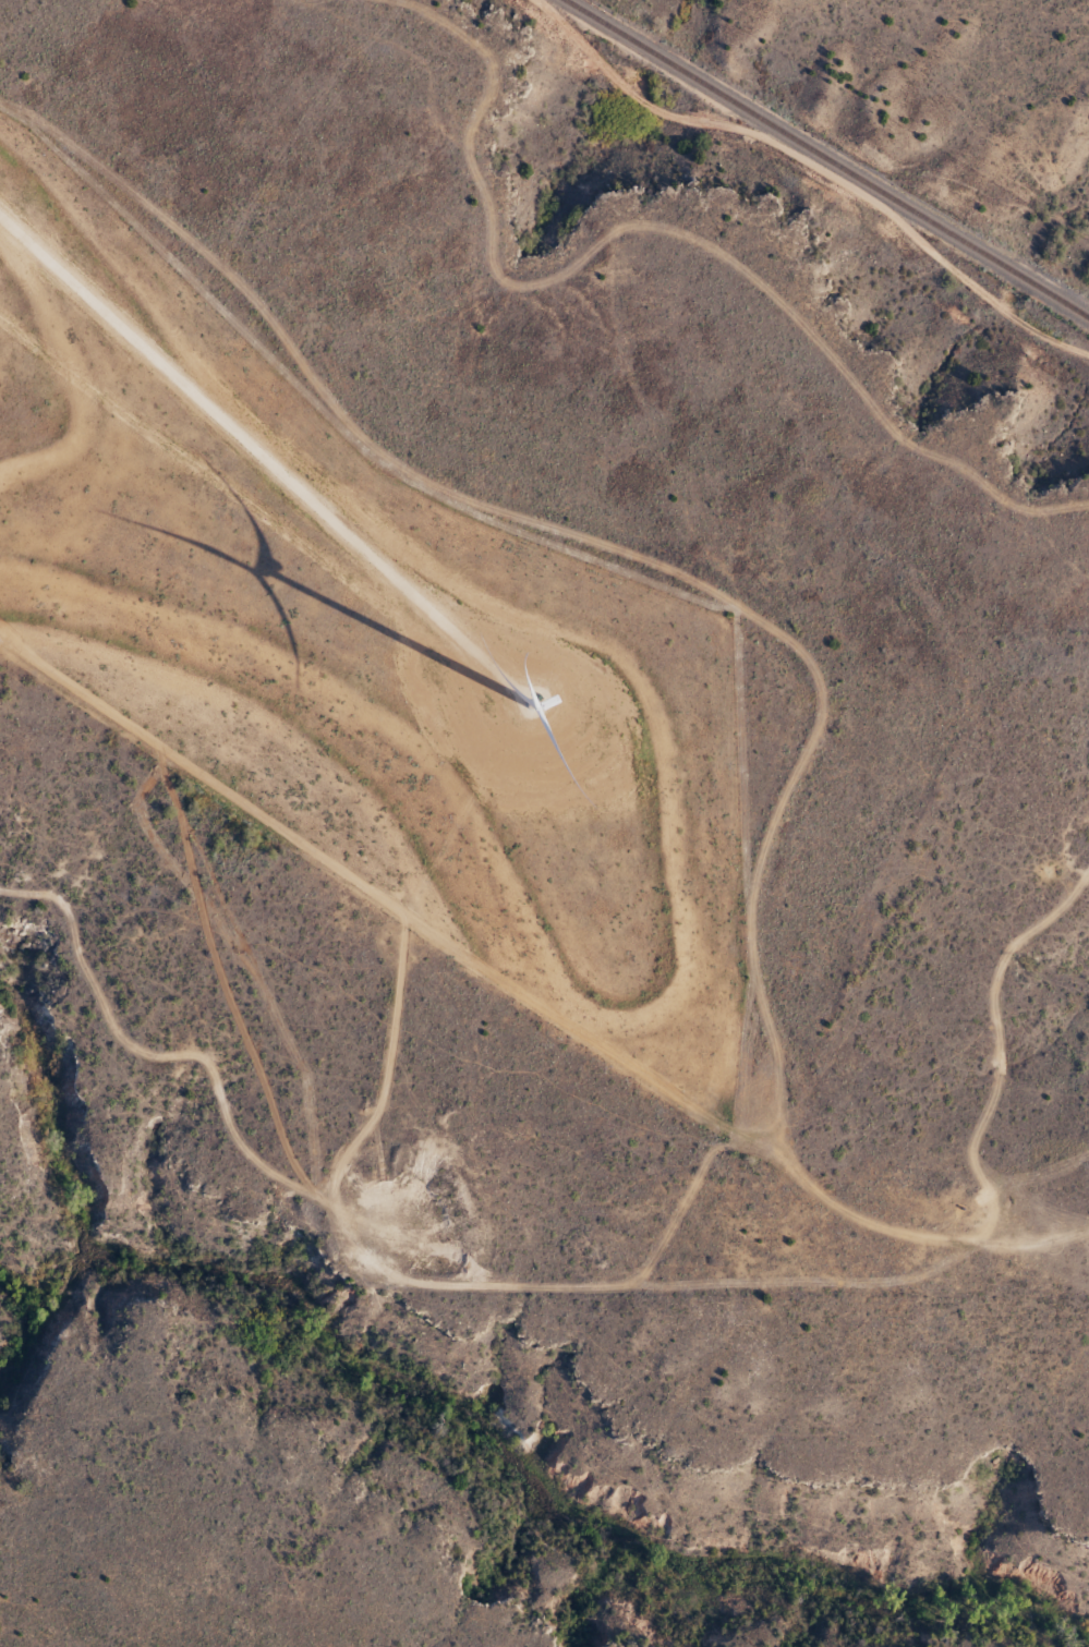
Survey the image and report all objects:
railway: (827, 158)
wind turbine: (531, 700)

